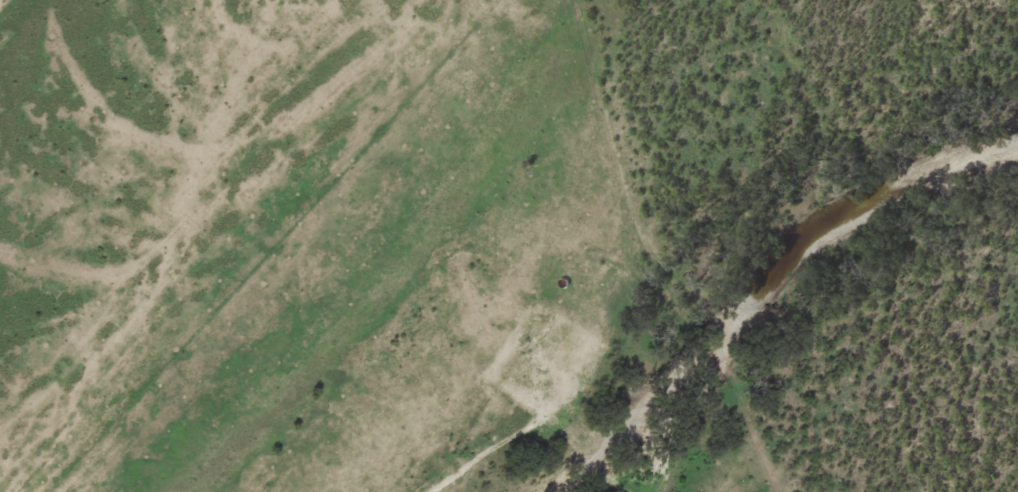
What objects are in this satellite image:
river: (768, 279)

